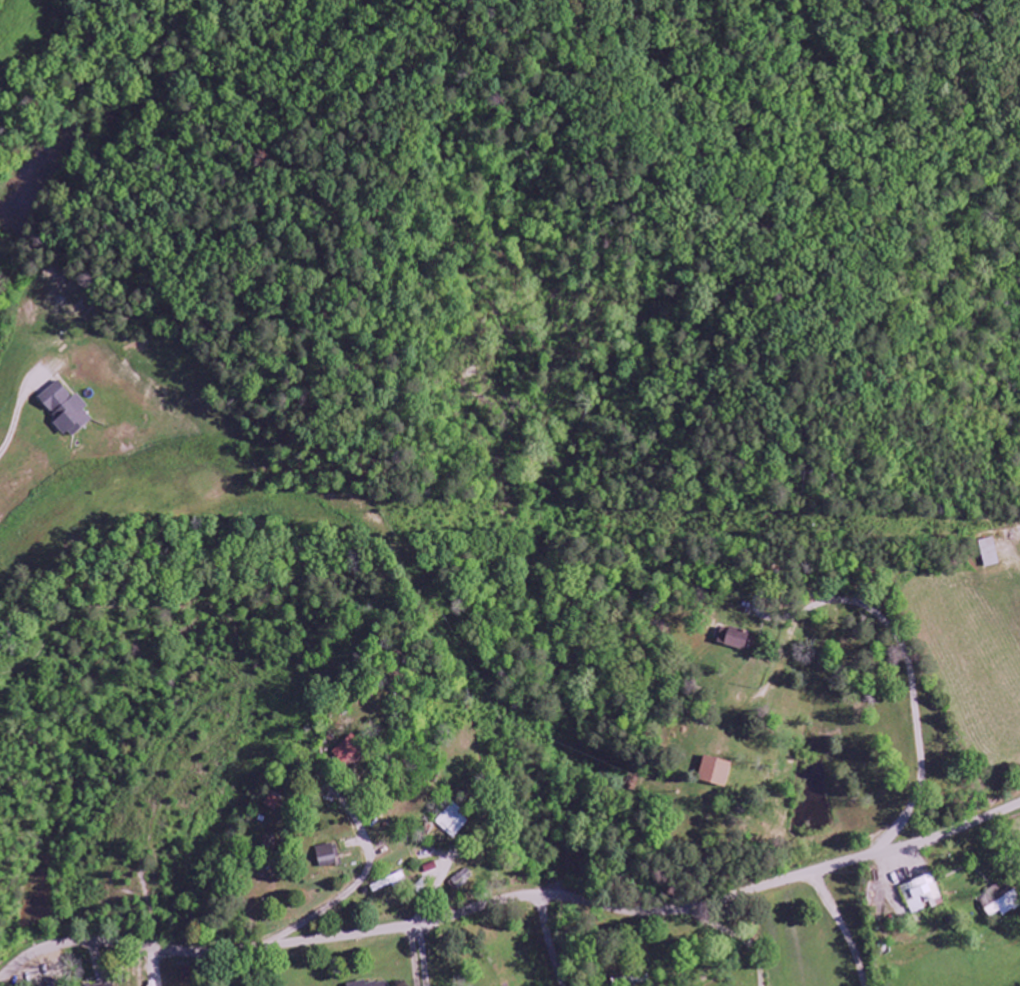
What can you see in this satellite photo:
building: (66, 410)
road: (14, 419)
building: (989, 552)
road: (773, 591)
building: (733, 638)
road: (914, 702)
building: (715, 772)
building: (327, 856)
building: (461, 880)
road: (559, 883)
road: (353, 887)
building: (922, 895)
road: (509, 900)
road: (957, 910)
road: (767, 937)
road: (548, 942)
road: (423, 955)
road: (412, 957)
building: (373, 984)
building: (109, 985)

